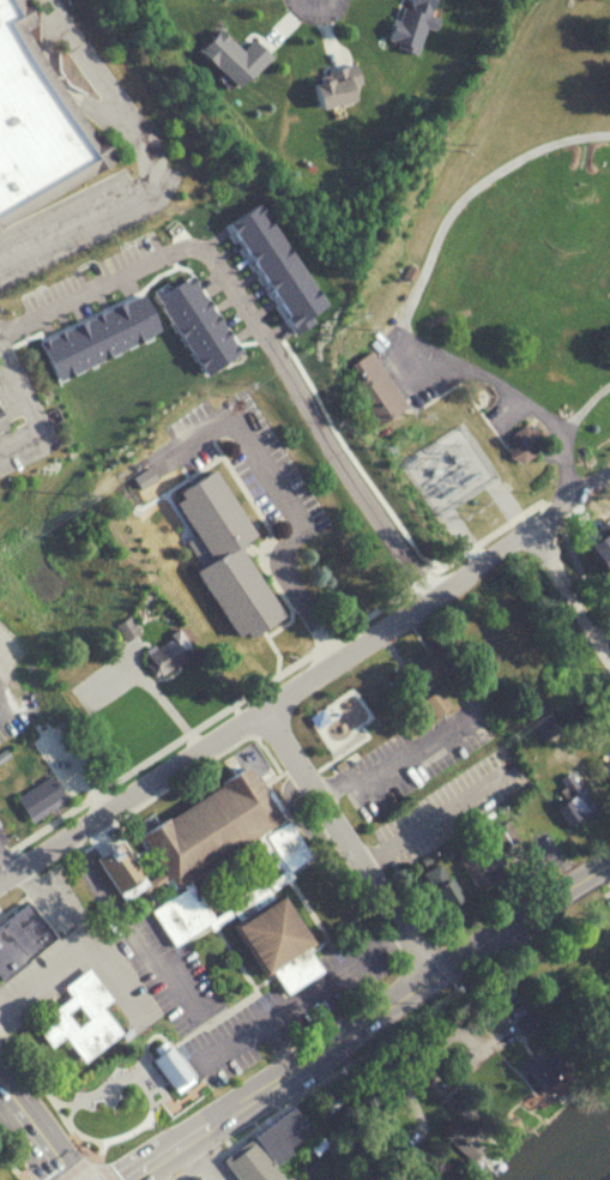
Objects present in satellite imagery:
building: (332, 88)
building: (40, 120)
parking lot: (67, 139)
road: (153, 163)
building: (276, 266)
building: (194, 323)
road: (261, 326)
building: (96, 336)
building: (373, 386)
road: (514, 395)
road: (26, 404)
parking lot: (20, 405)
building: (0, 426)
building: (0, 433)
building: (520, 444)
power substation: (449, 470)
road: (509, 505)
road: (292, 510)
building: (224, 550)
road: (578, 562)
road: (569, 594)
building: (164, 652)
road: (270, 680)
road: (7, 682)
road: (310, 685)
building: (433, 704)
building: (545, 726)
road: (398, 759)
building: (36, 796)
building: (570, 802)
road: (435, 815)
building: (212, 842)
road: (350, 844)
building: (487, 855)
road: (6, 862)
building: (116, 863)
building: (439, 886)
road: (128, 927)
building: (20, 939)
building: (276, 941)
building: (588, 955)
road: (80, 958)
road: (301, 1000)
road: (266, 1005)
building: (55, 1007)
road: (366, 1018)
road: (464, 1019)
road: (217, 1021)
road: (151, 1038)
road: (280, 1044)
road: (182, 1050)
road: (188, 1054)
building: (171, 1062)
building: (542, 1070)
road: (194, 1076)
road: (37, 1079)
road: (188, 1079)
road: (201, 1079)
building: (185, 1083)
road: (185, 1083)
road: (152, 1084)
road: (152, 1090)
road: (191, 1091)
park: (131, 1097)
building: (332, 1100)
road: (66, 1103)
road: (163, 1107)
road: (171, 1110)
building: (465, 1128)
road: (249, 1131)
road: (36, 1132)
building: (279, 1134)
road: (84, 1149)
road: (101, 1151)
road: (211, 1156)
road: (10, 1160)
building: (250, 1163)
building: (421, 1164)
road: (77, 1168)
road: (194, 1168)
road: (105, 1170)
river: (603, 1172)
road: (22, 1176)
building: (193, 1178)

